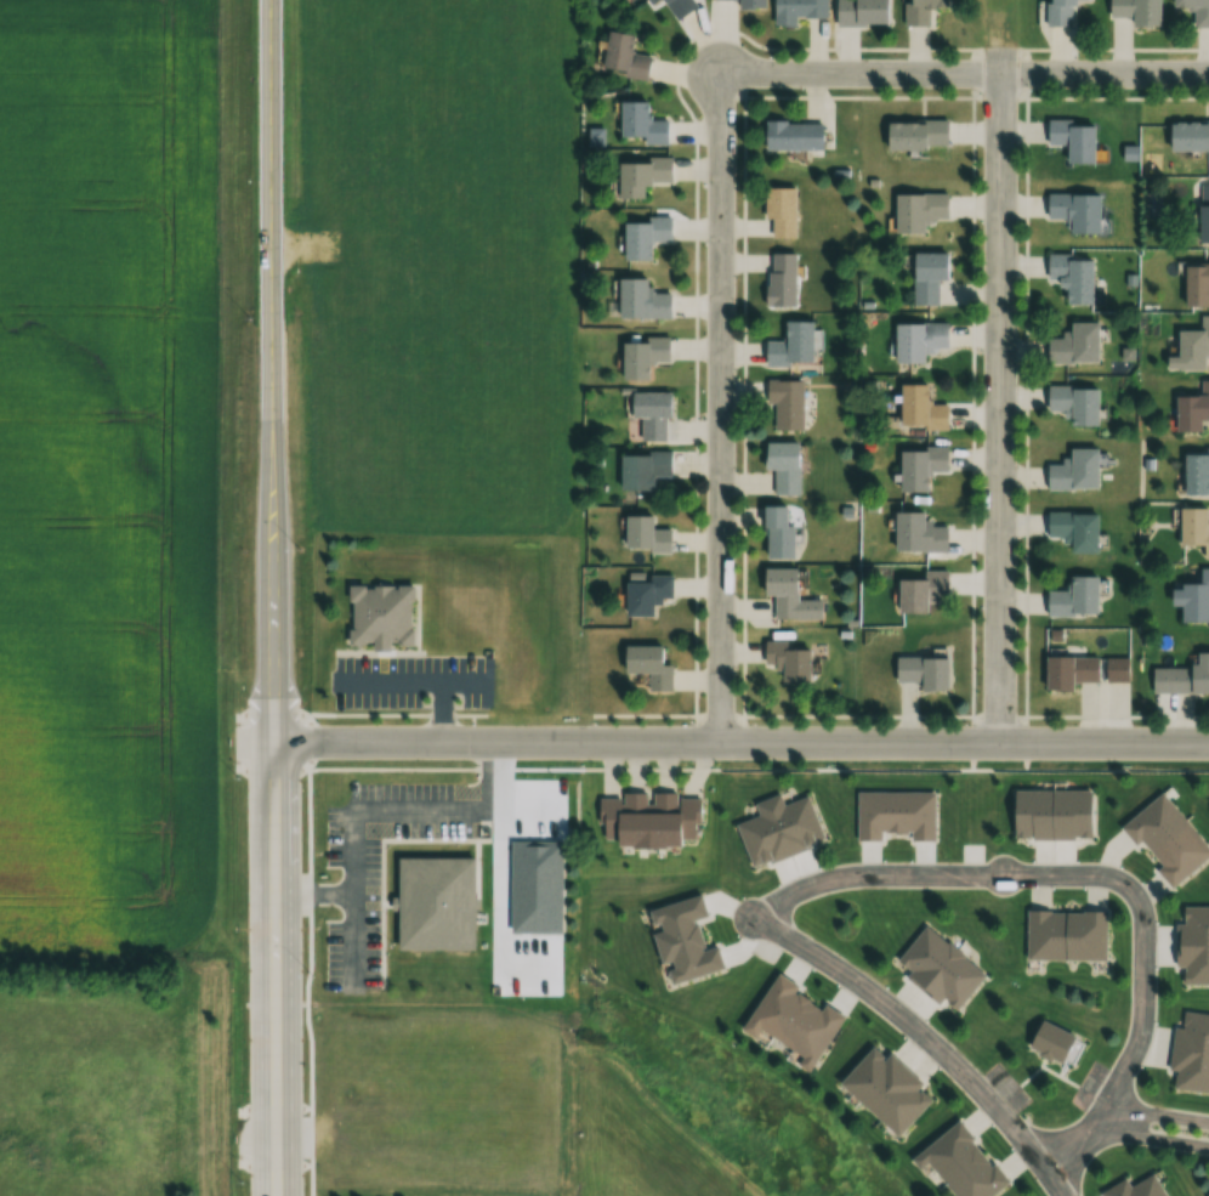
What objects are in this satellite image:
building: (648, 1)
building: (748, 4)
building: (676, 6)
building: (794, 11)
building: (916, 11)
building: (1134, 11)
building: (1194, 11)
building: (857, 12)
building: (1057, 12)
building: (620, 57)
road: (964, 72)
building: (638, 124)
building: (913, 135)
building: (794, 136)
building: (1187, 136)
building: (1071, 140)
road: (271, 166)
building: (638, 176)
building: (1073, 210)
building: (777, 211)
building: (916, 211)
building: (1203, 212)
building: (642, 236)
building: (926, 276)
building: (1069, 276)
building: (779, 279)
building: (1194, 285)
building: (638, 300)
building: (918, 341)
building: (1073, 344)
building: (789, 345)
building: (1188, 347)
building: (640, 355)
building: (785, 403)
building: (1073, 403)
road: (720, 407)
road: (1000, 407)
building: (919, 408)
building: (1190, 408)
building: (649, 414)
building: (783, 466)
building: (919, 467)
building: (640, 469)
building: (1073, 470)
building: (1194, 471)
building: (1073, 529)
building: (1192, 529)
building: (776, 533)
building: (918, 533)
building: (643, 534)
building: (921, 590)
building: (646, 594)
building: (788, 595)
building: (1073, 597)
building: (1193, 599)
building: (380, 616)
building: (787, 661)
building: (647, 665)
building: (1068, 671)
building: (924, 673)
building: (1179, 679)
road: (742, 742)
road: (274, 764)
building: (1050, 814)
building: (648, 820)
building: (778, 829)
building: (1165, 839)
road: (1096, 875)
building: (1063, 935)
building: (681, 940)
building: (1192, 945)
building: (937, 969)
building: (790, 1020)
road: (921, 1035)
building: (1048, 1042)
building: (1190, 1053)
building: (882, 1089)
road: (1156, 1122)
building: (959, 1163)
building: (1136, 1188)

